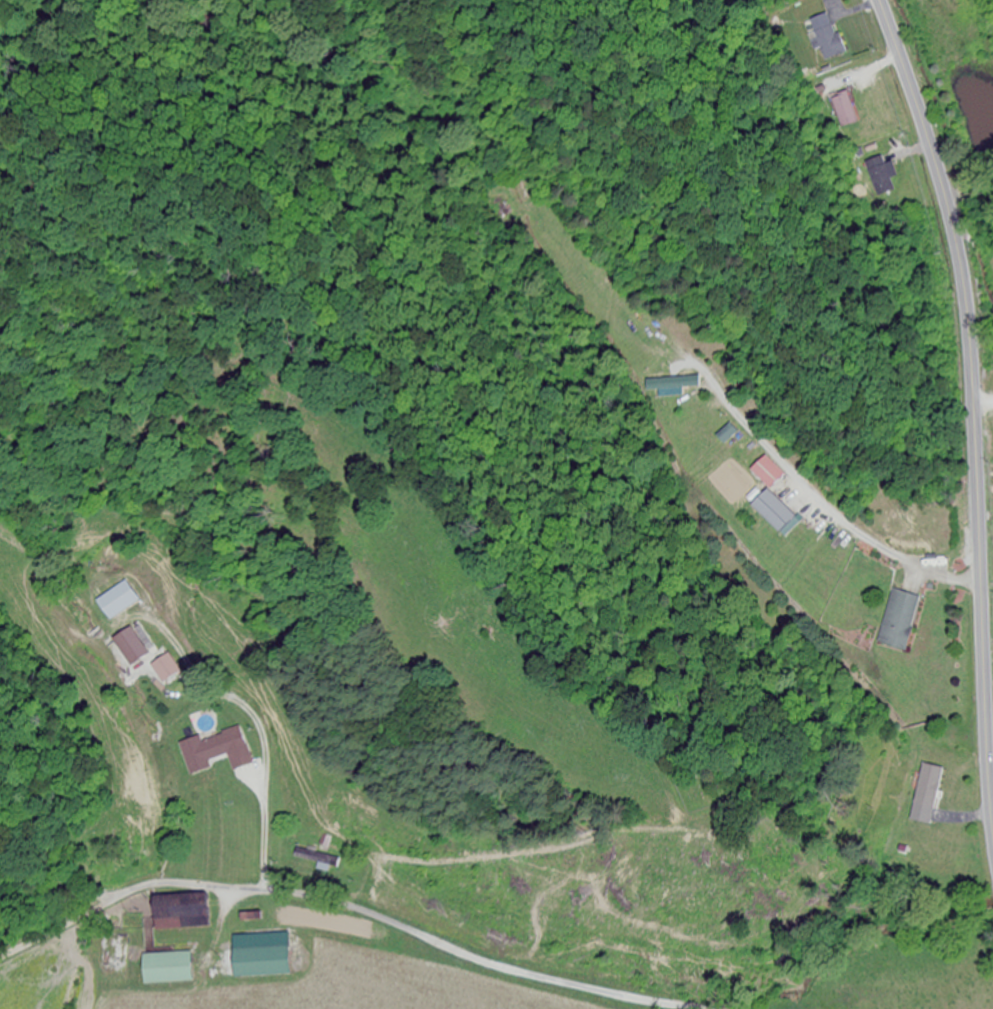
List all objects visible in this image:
building: (825, 38)
building: (847, 110)
building: (677, 385)
road: (970, 400)
building: (727, 435)
building: (767, 474)
building: (807, 516)
building: (118, 602)
building: (901, 621)
building: (133, 646)
building: (167, 667)
building: (216, 752)
building: (921, 827)
building: (317, 859)
road: (348, 909)
building: (197, 915)
building: (263, 962)
building: (169, 968)

